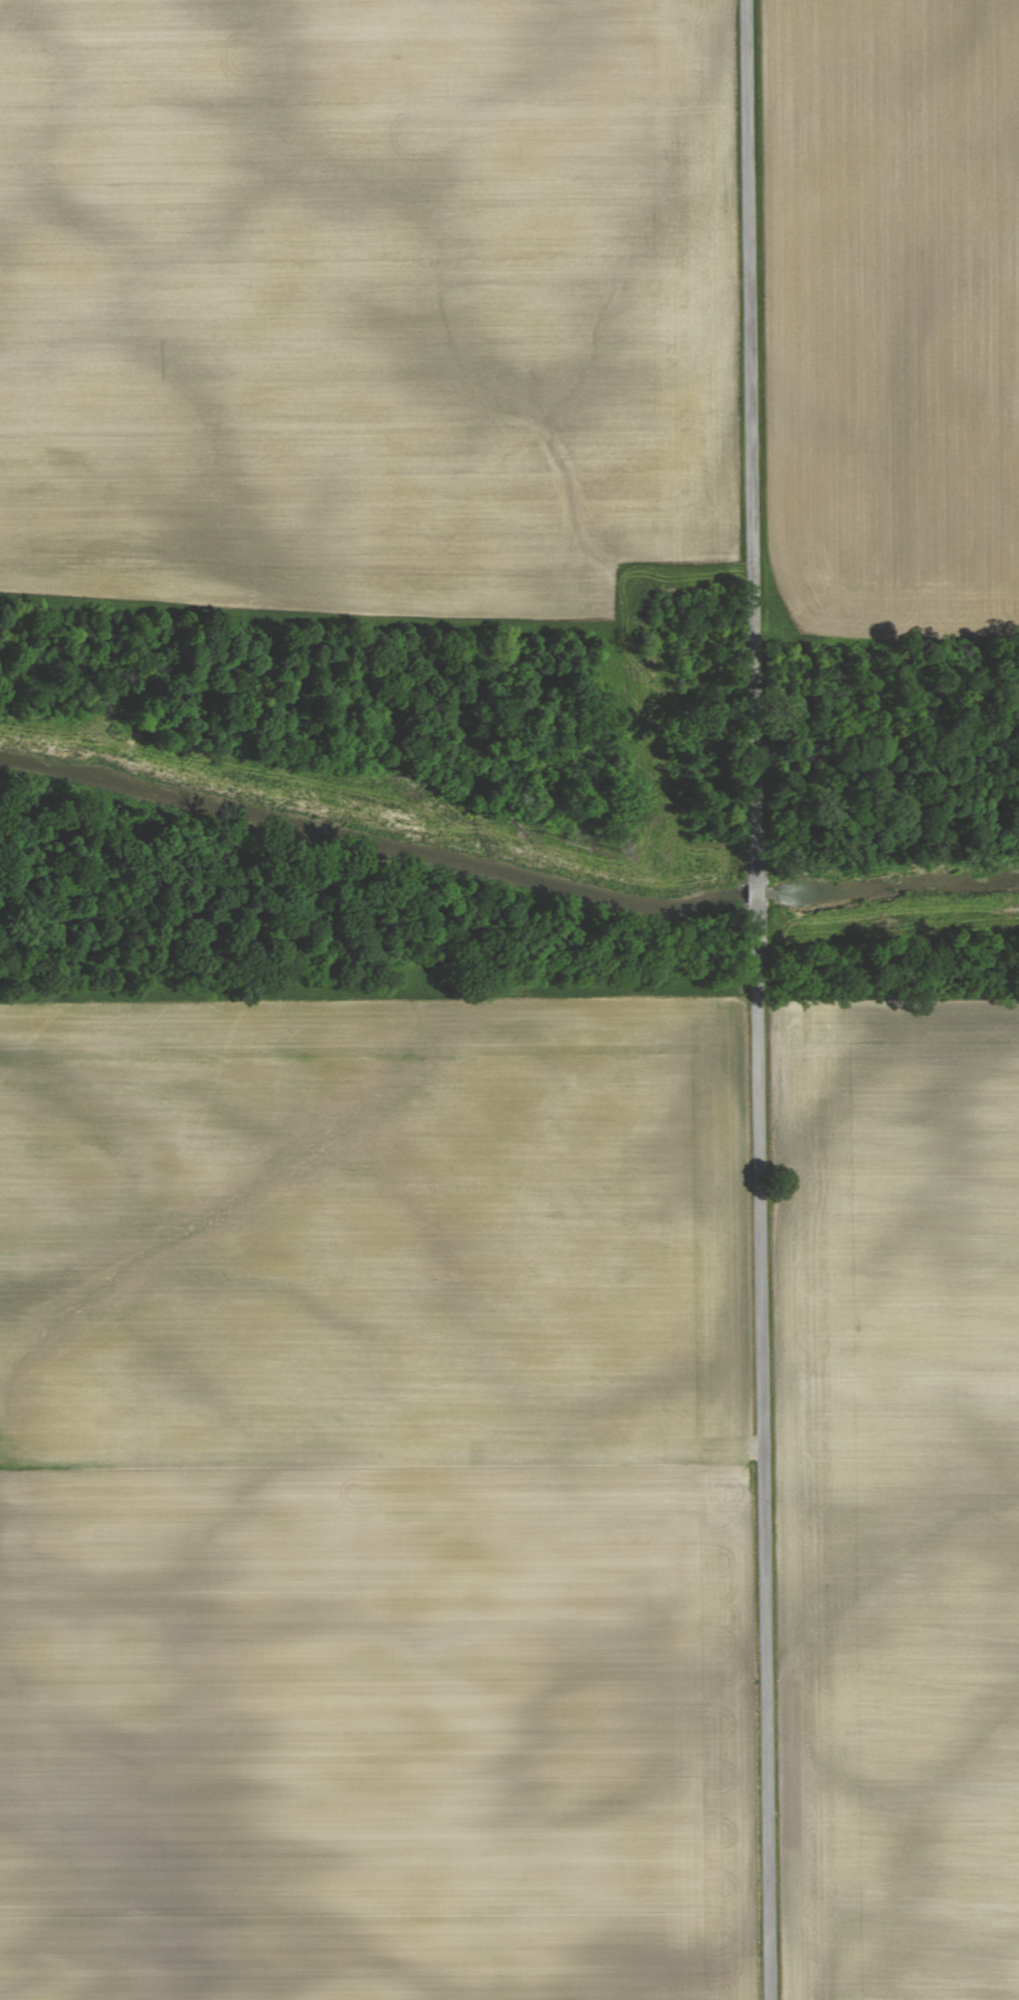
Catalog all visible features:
road: (757, 999)

